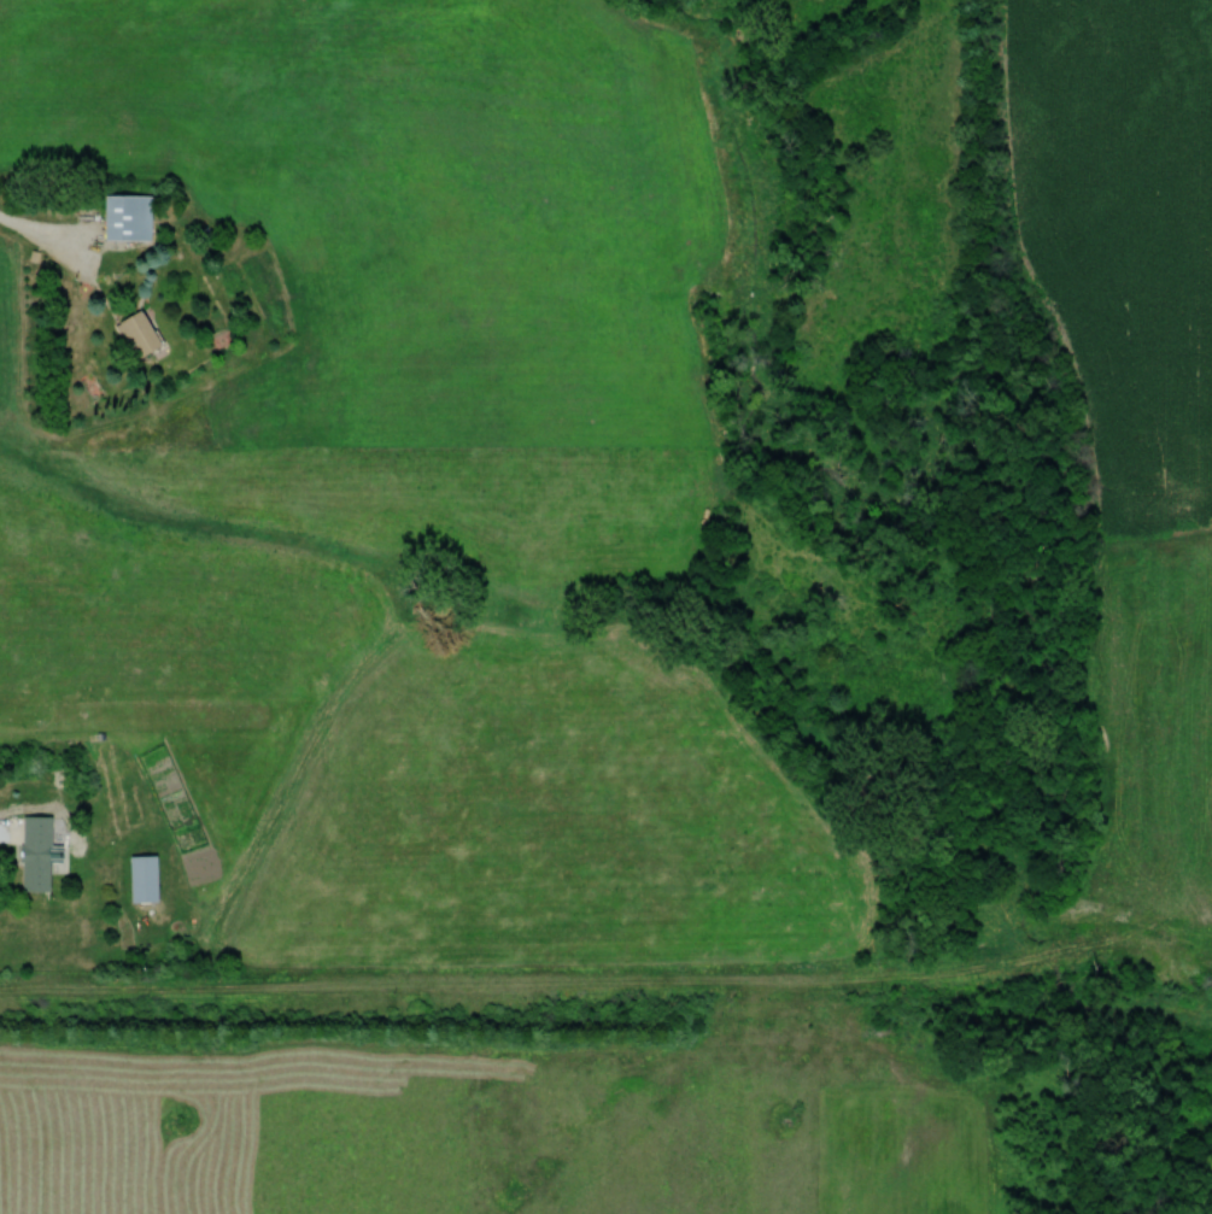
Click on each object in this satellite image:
building: (127, 217)
road: (42, 231)
building: (136, 334)
building: (35, 852)
building: (142, 879)

